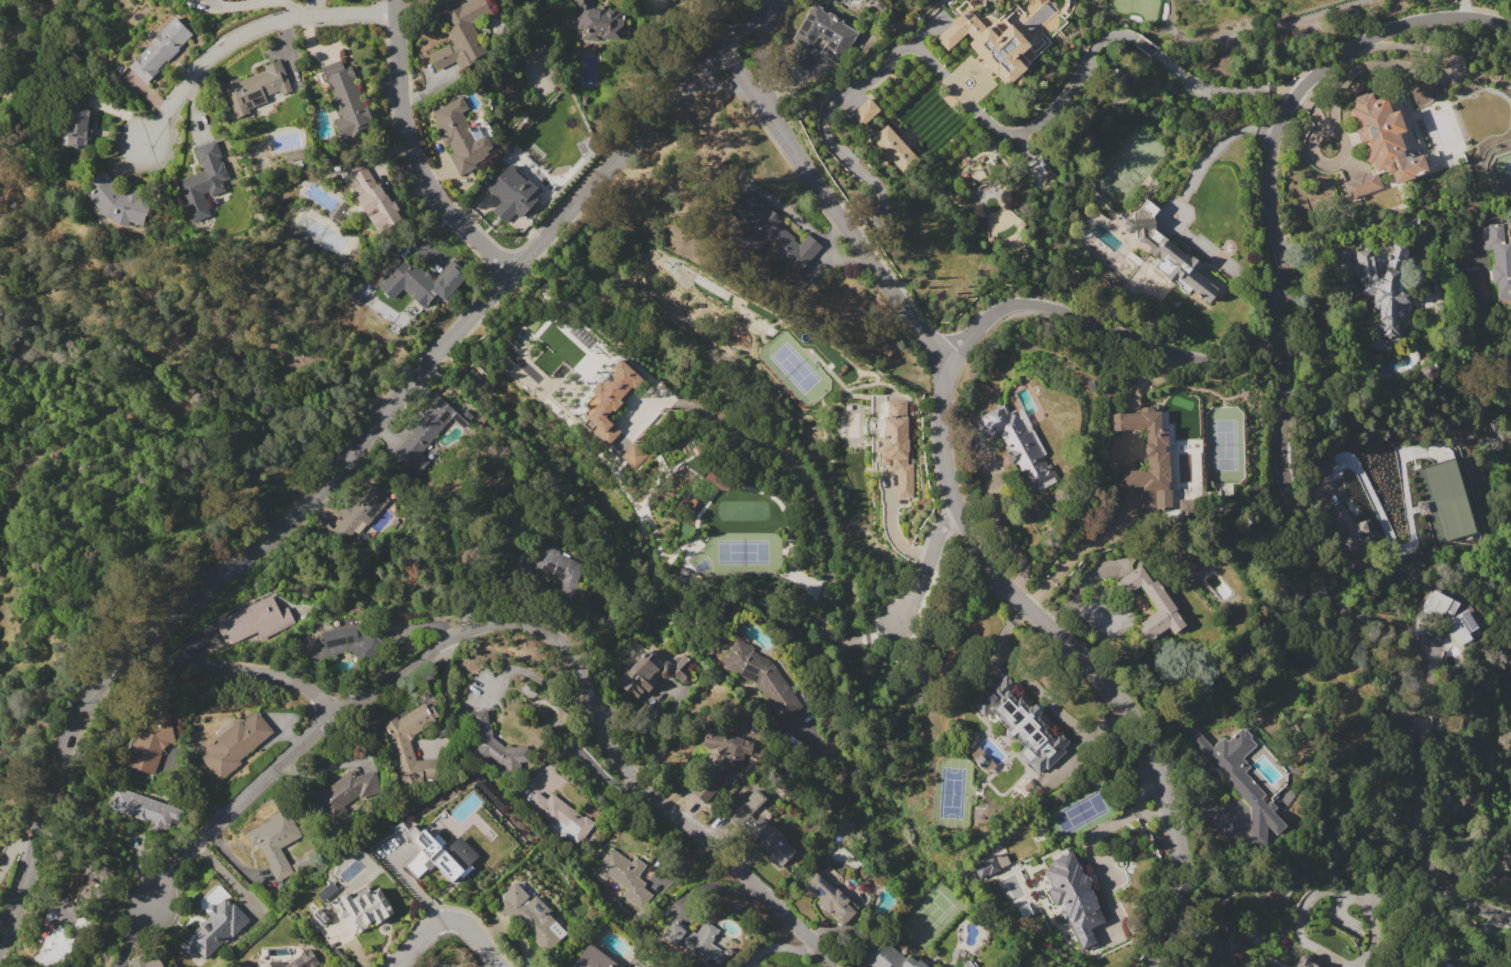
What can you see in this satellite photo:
building: (670, 1)
building: (598, 20)
building: (553, 21)
road: (247, 35)
building: (462, 36)
building: (837, 38)
building: (988, 44)
road: (758, 48)
building: (159, 50)
road: (717, 82)
building: (255, 88)
road: (1292, 94)
building: (345, 100)
building: (864, 112)
road: (983, 115)
building: (77, 120)
building: (461, 136)
road: (1220, 142)
building: (1381, 144)
road: (416, 151)
building: (894, 151)
building: (203, 182)
building: (512, 193)
building: (372, 198)
building: (118, 201)
road: (833, 207)
building: (773, 234)
building: (1173, 258)
building: (1498, 258)
building: (424, 281)
building: (1382, 288)
road: (1107, 328)
building: (609, 400)
building: (423, 434)
building: (896, 446)
building: (1022, 448)
building: (632, 455)
road: (346, 456)
building: (1146, 460)
road: (803, 484)
building: (360, 509)
road: (891, 529)
building: (1348, 531)
road: (1070, 556)
road: (926, 564)
building: (558, 565)
building: (1153, 603)
building: (1450, 617)
building: (254, 621)
road: (881, 630)
road: (850, 641)
road: (1371, 644)
building: (345, 645)
road: (1083, 657)
road: (233, 670)
building: (644, 672)
building: (762, 679)
road: (1039, 692)
road: (601, 717)
building: (1022, 722)
building: (151, 739)
building: (235, 744)
building: (409, 744)
building: (497, 746)
building: (730, 755)
building: (1240, 778)
building: (705, 787)
building: (346, 796)
building: (747, 806)
building: (142, 807)
building: (465, 807)
road: (239, 813)
building: (561, 816)
building: (770, 840)
building: (274, 842)
building: (439, 854)
building: (1509, 862)
building: (987, 868)
building: (625, 876)
building: (966, 877)
building: (327, 891)
building: (830, 898)
building: (1074, 898)
building: (361, 908)
building: (531, 916)
building: (319, 917)
road: (448, 919)
building: (215, 928)
building: (62, 941)
building: (696, 942)
building: (889, 957)
building: (593, 959)
building: (297, 961)
building: (1304, 961)
building: (147, 963)
building: (966, 964)

